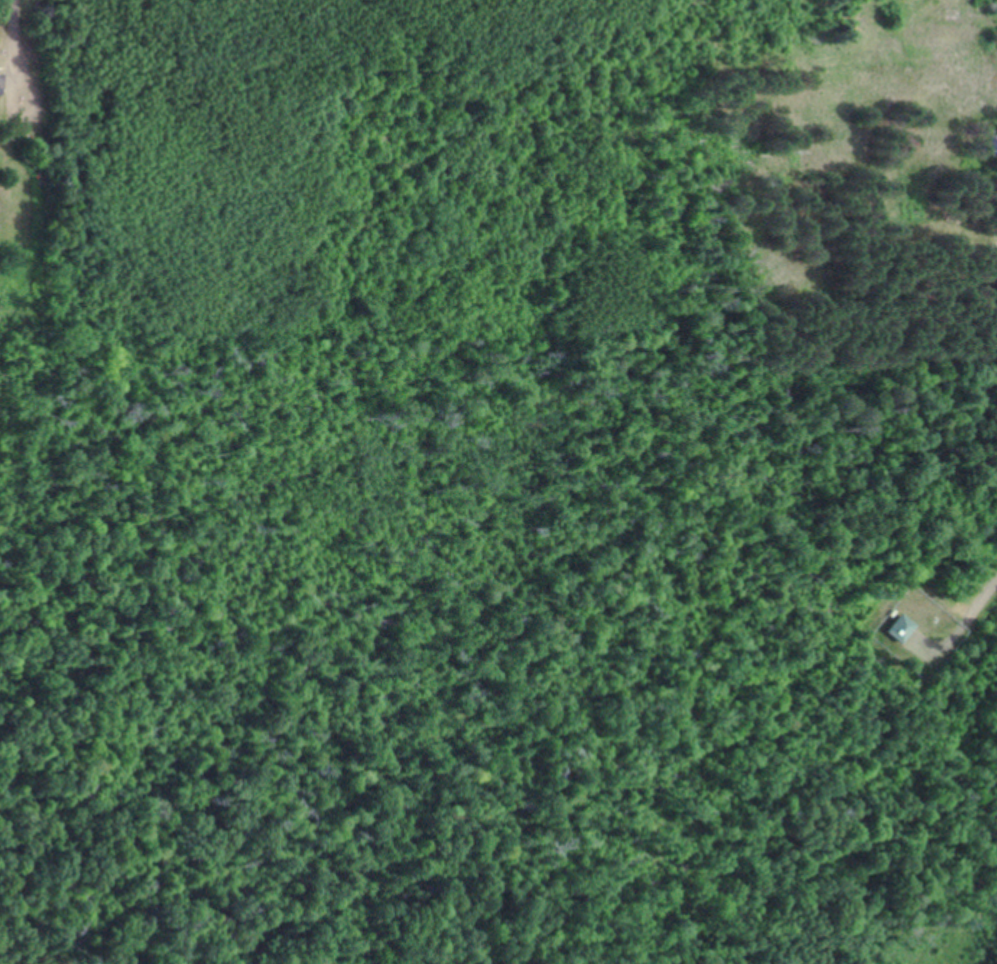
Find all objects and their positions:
road: (21, 45)

